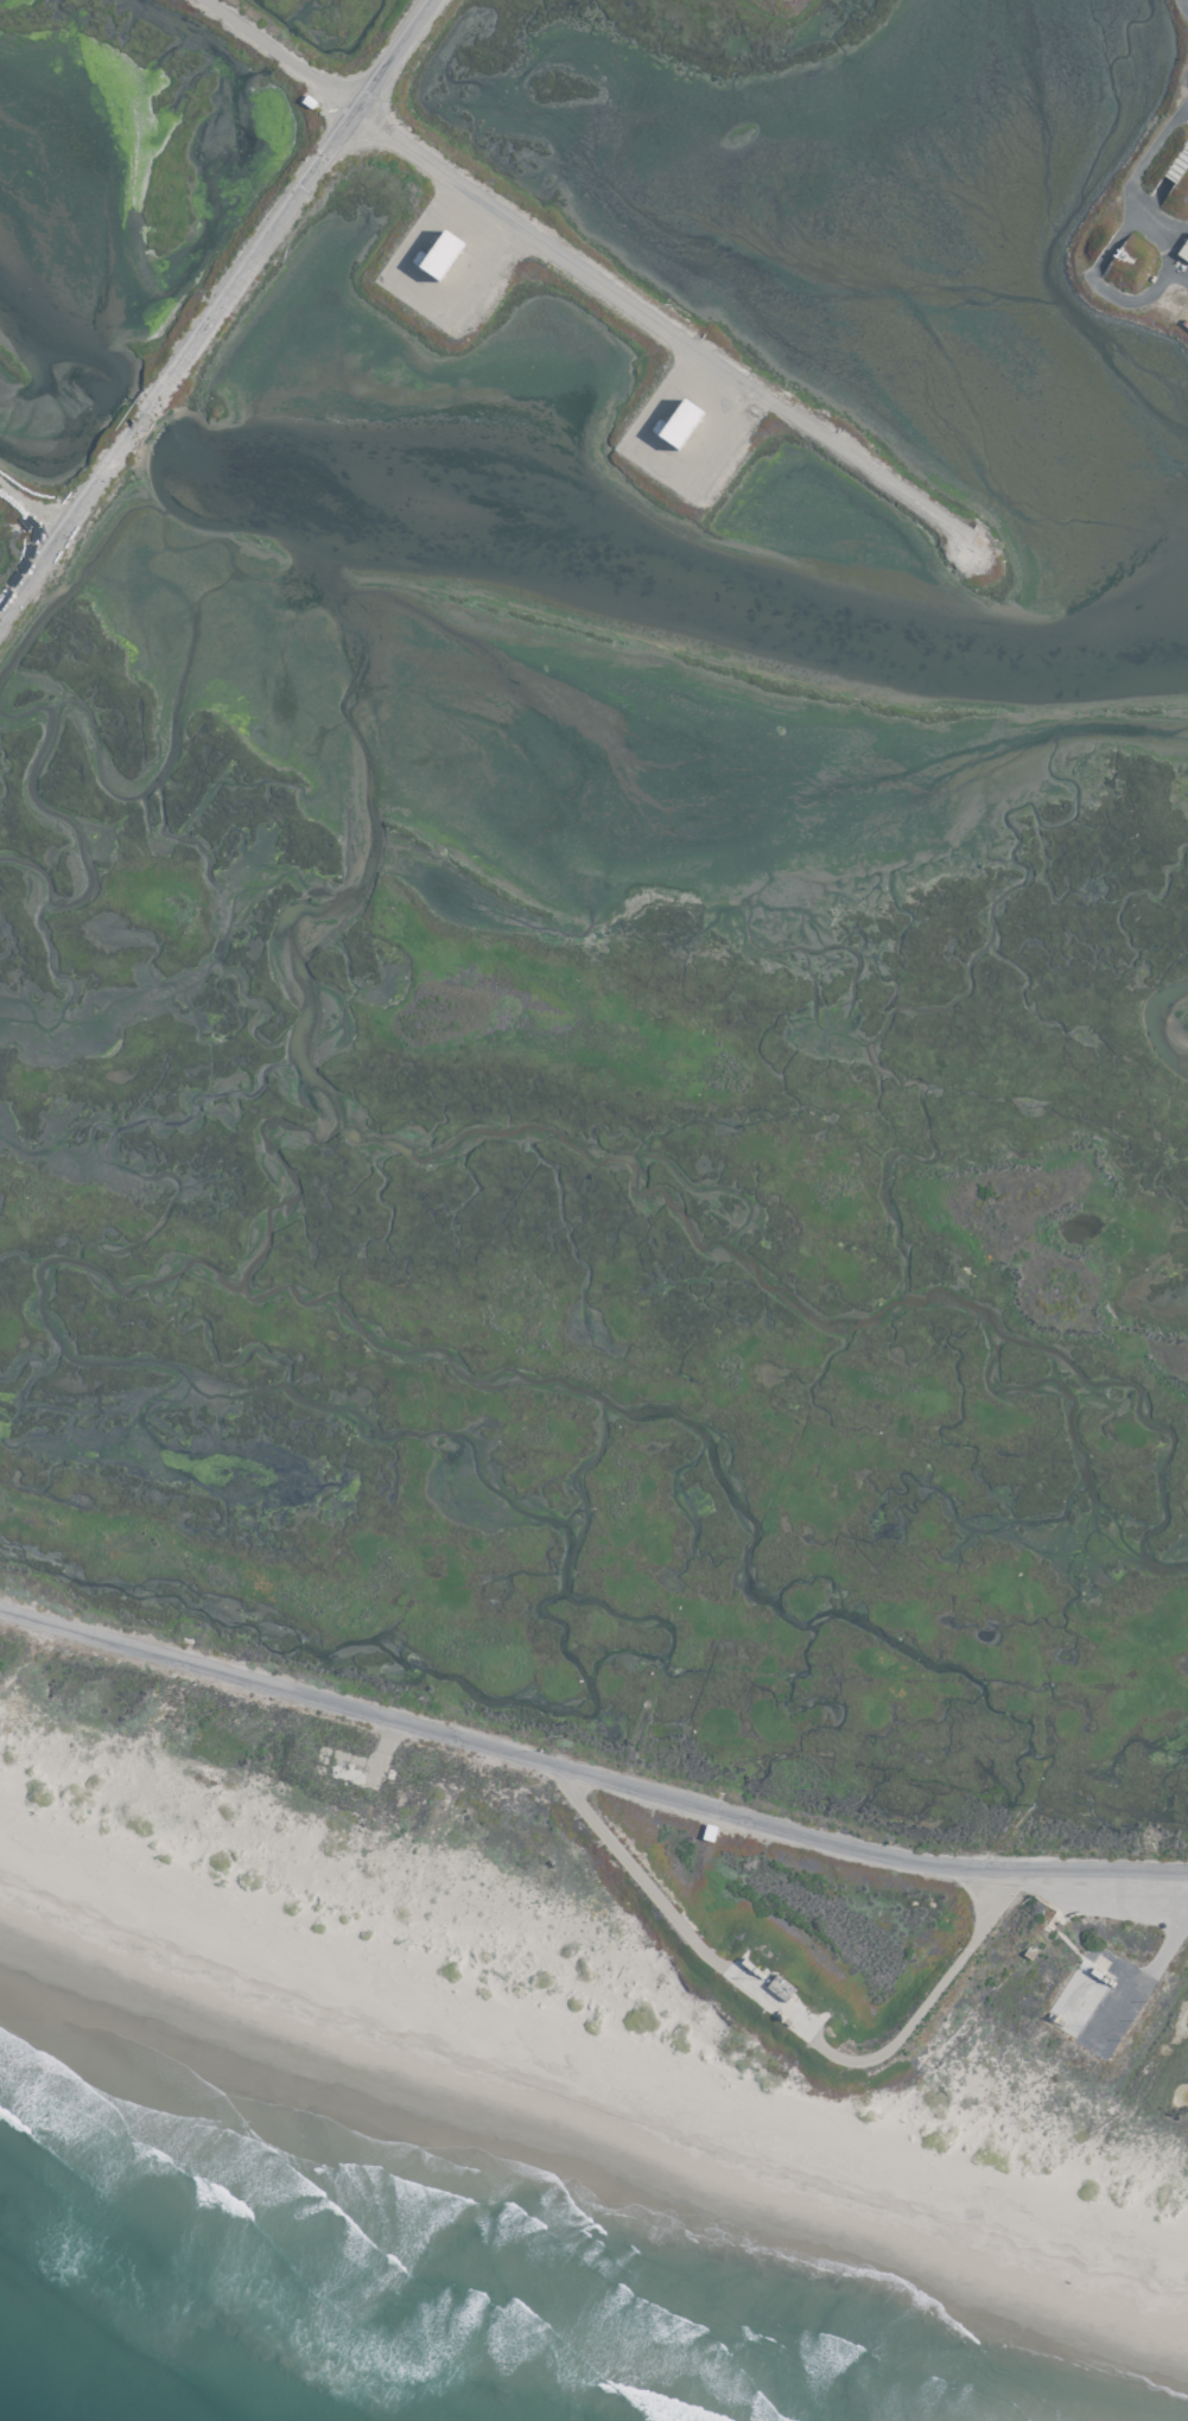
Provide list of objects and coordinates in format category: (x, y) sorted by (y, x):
road: (1181, 7)
building: (1182, 249)
building: (437, 255)
road: (589, 267)
road: (212, 305)
building: (676, 424)
road: (30, 502)
airport: (606, 1170)
road: (587, 1773)
road: (1091, 1906)
road: (782, 2008)

